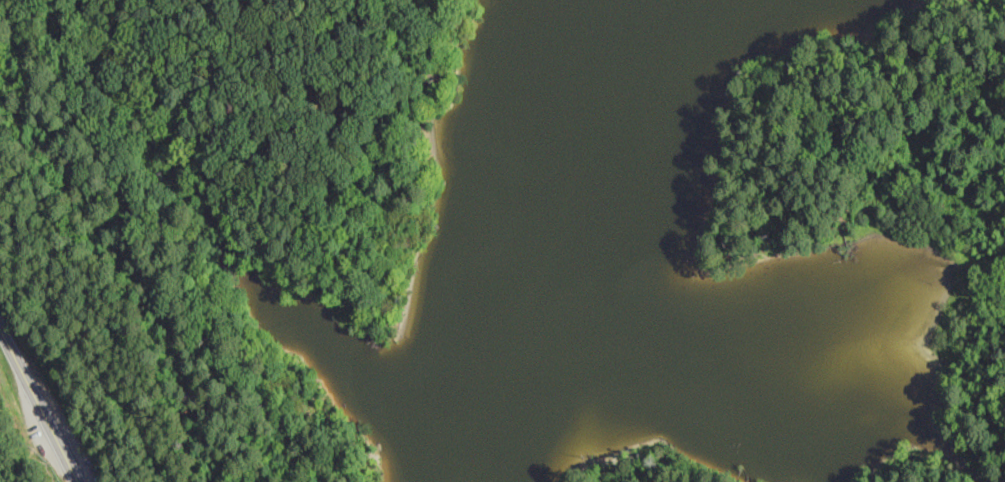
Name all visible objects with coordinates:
road: (205, 161)
park: (218, 216)
road: (40, 403)

